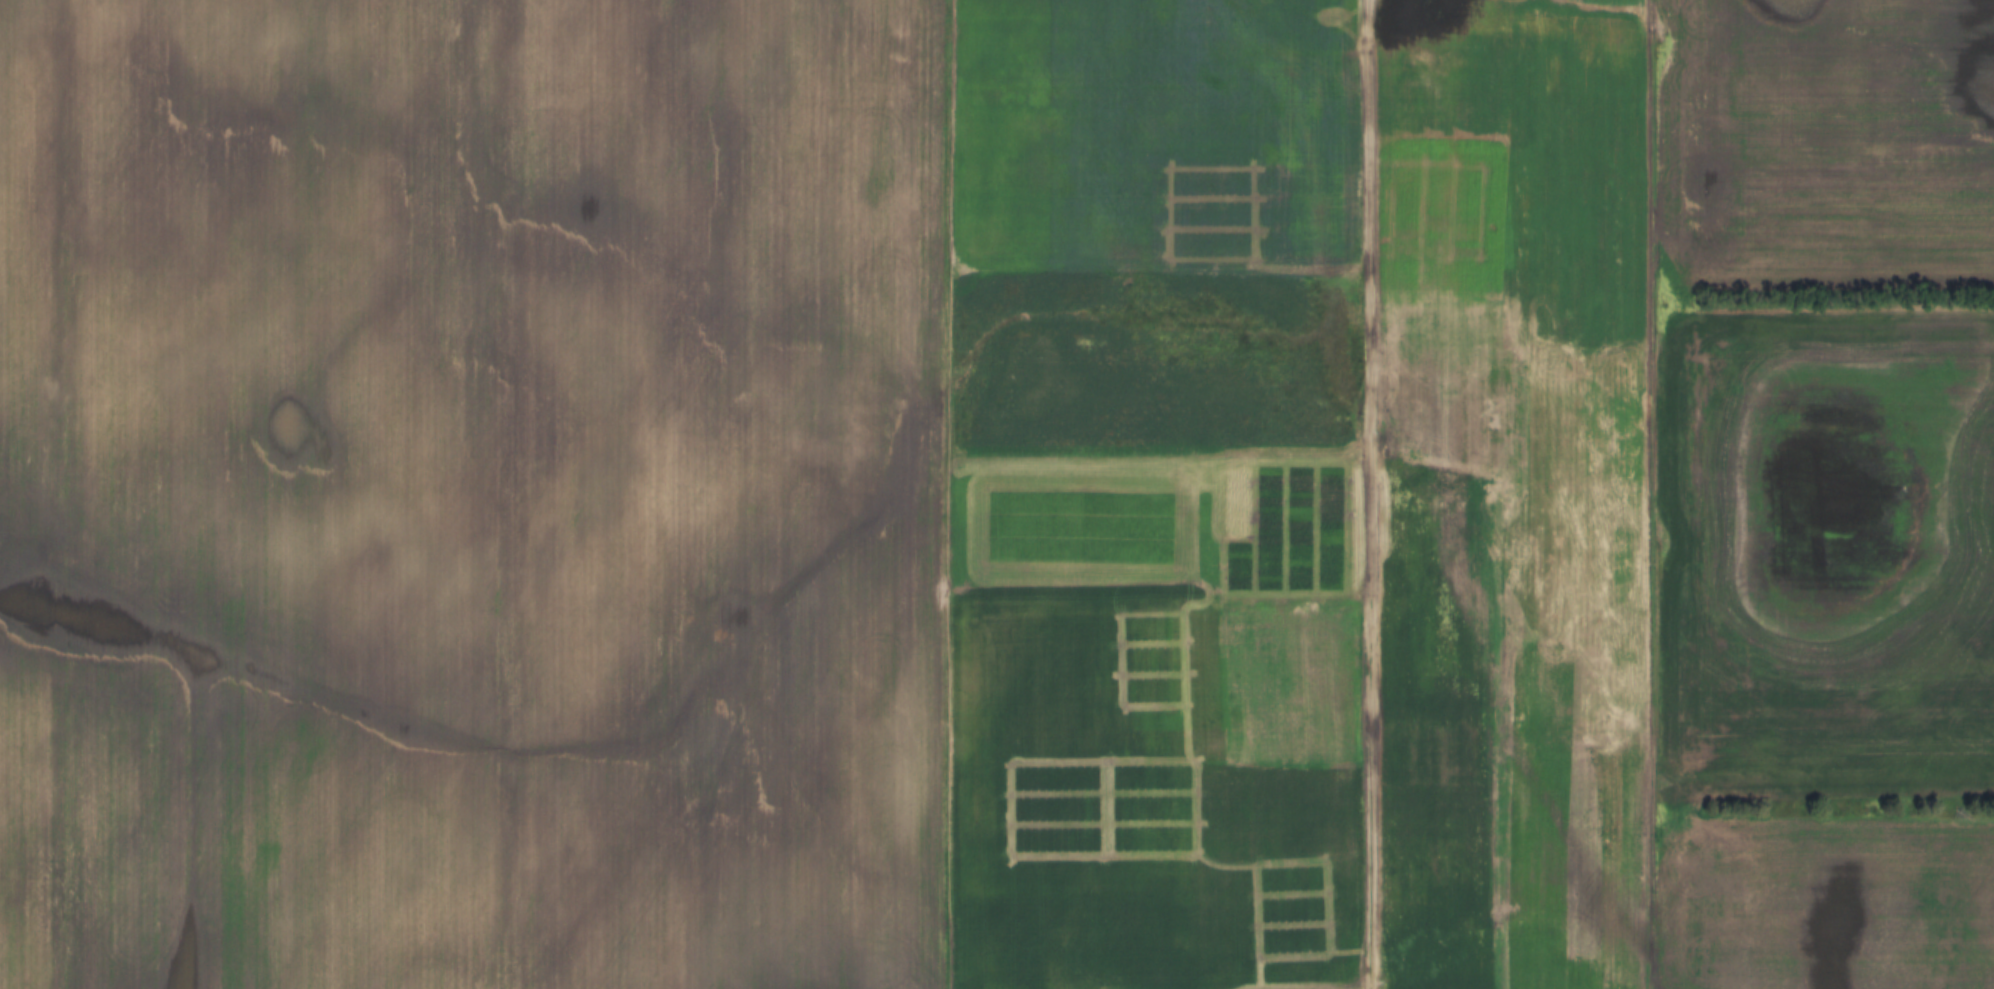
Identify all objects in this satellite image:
road: (66, 494)
road: (1375, 494)

